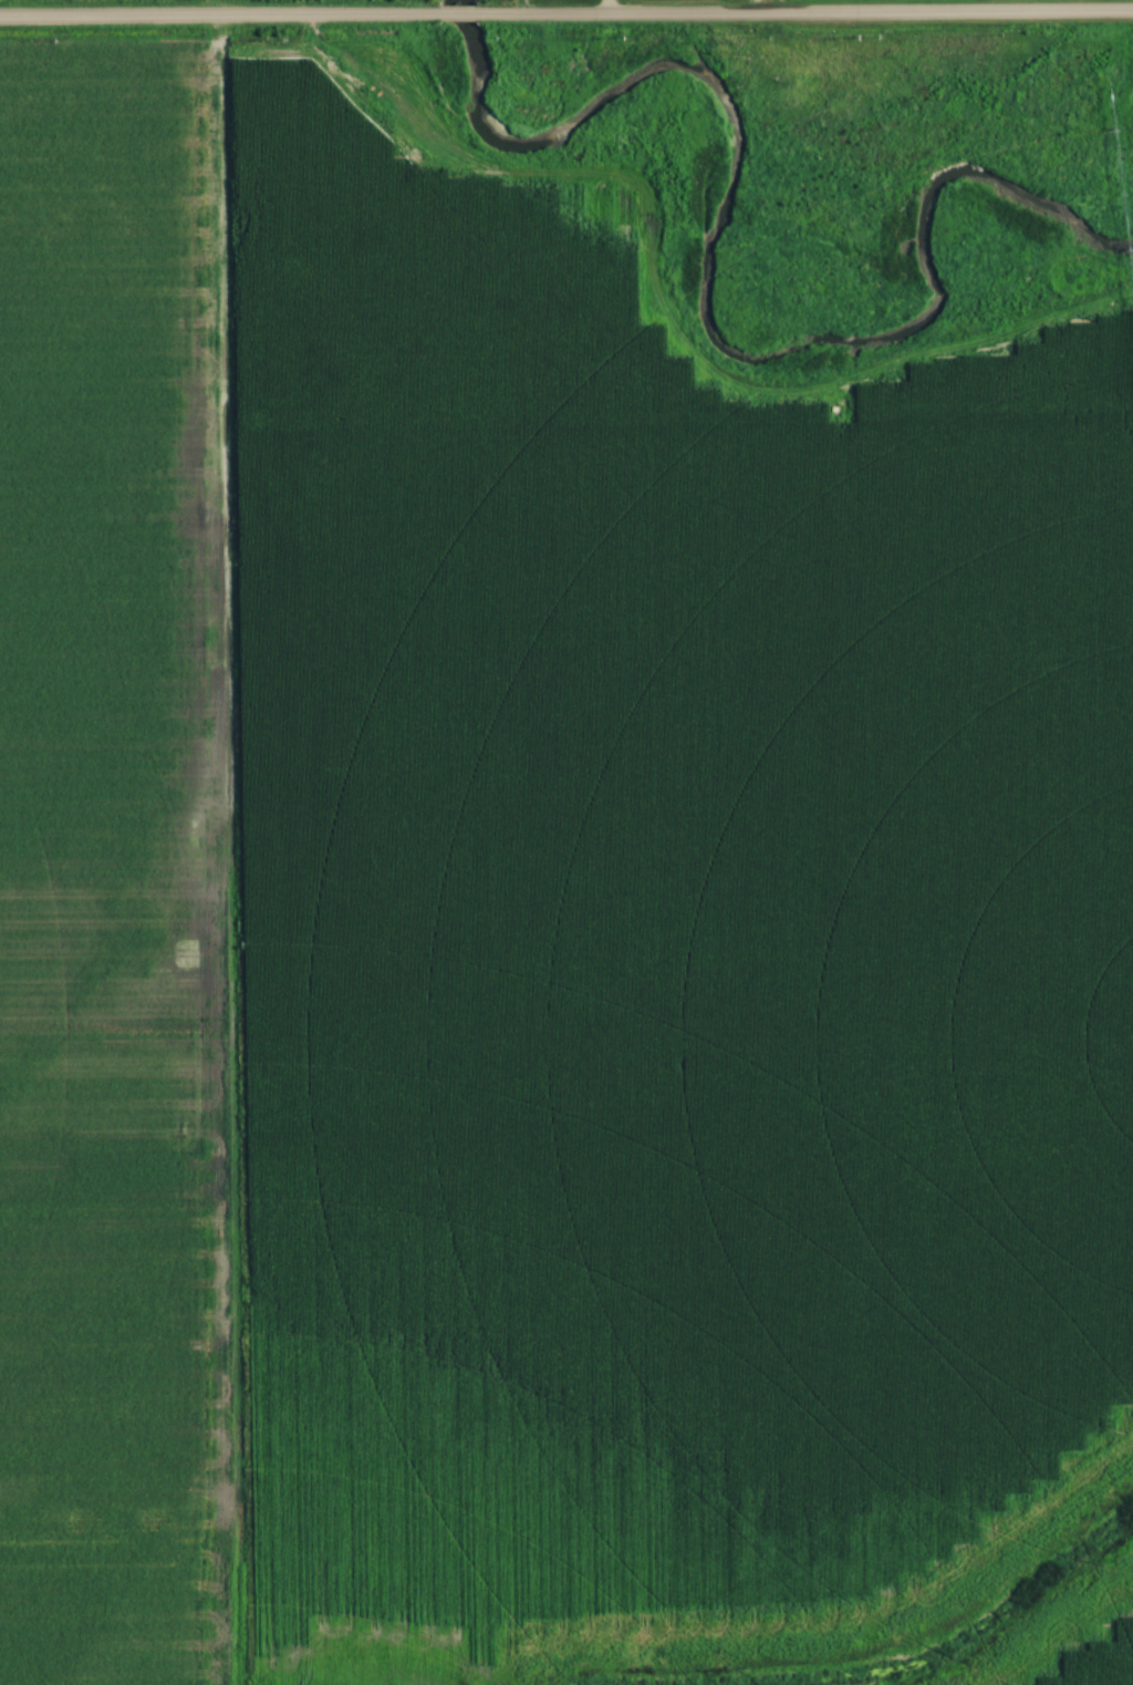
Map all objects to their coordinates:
road: (803, 11)
road: (459, 14)
road: (221, 15)

